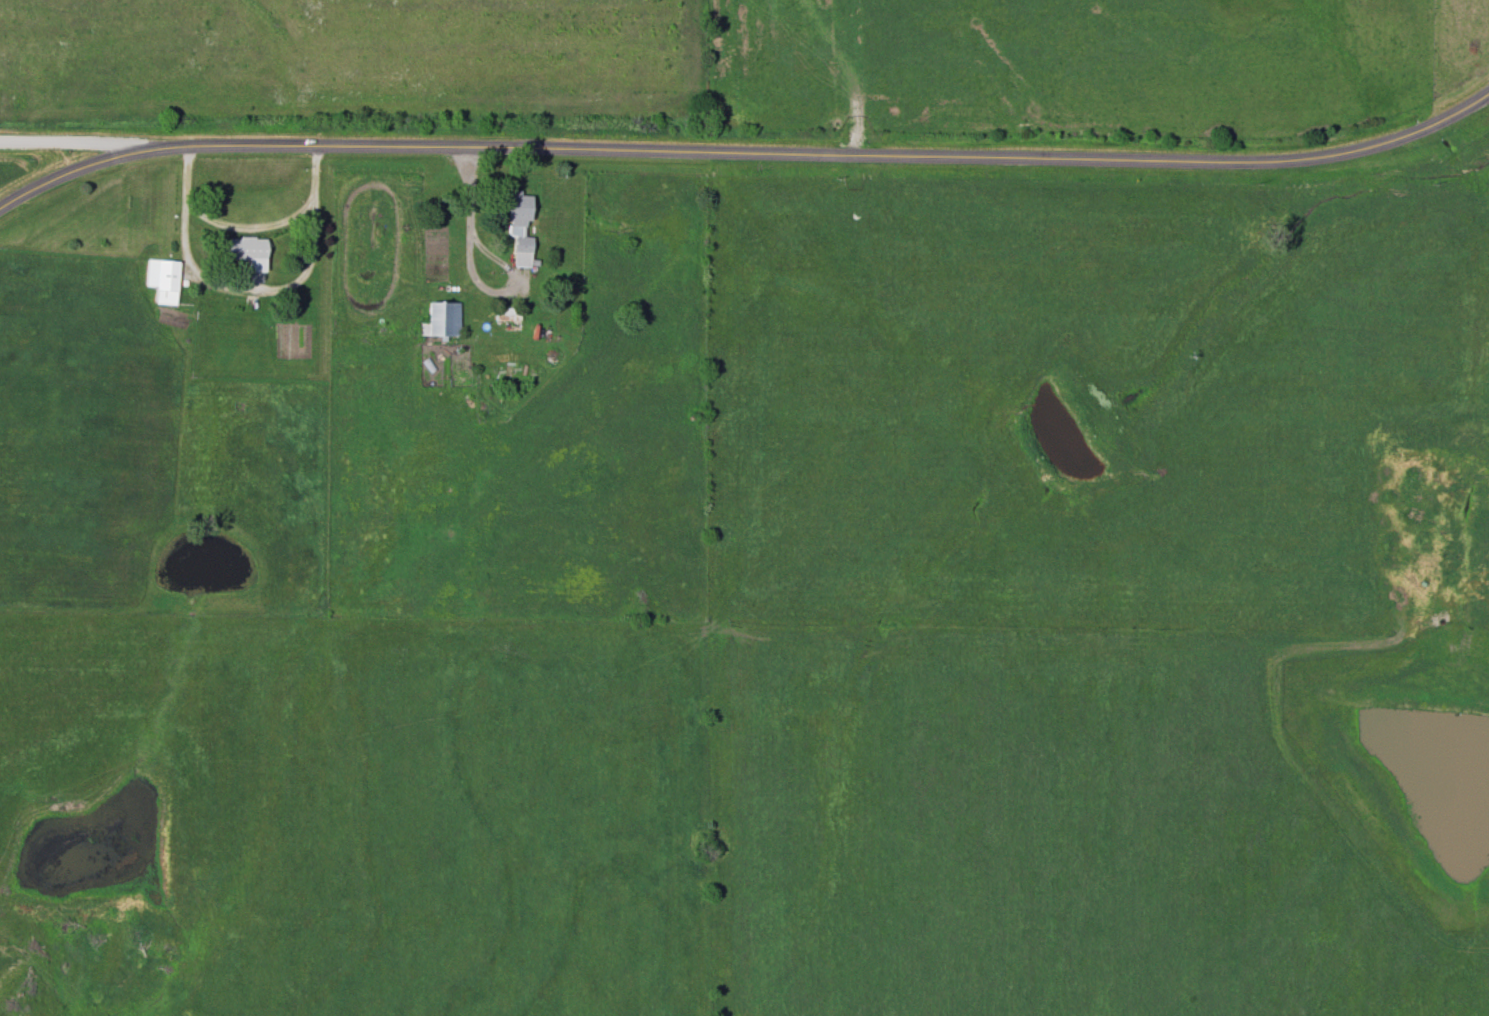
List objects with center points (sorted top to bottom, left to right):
road: (70, 142)
road: (821, 155)
road: (68, 172)
road: (251, 228)
building: (521, 229)
building: (250, 254)
building: (163, 281)
road: (248, 292)
building: (507, 316)
building: (441, 322)
building: (537, 329)

